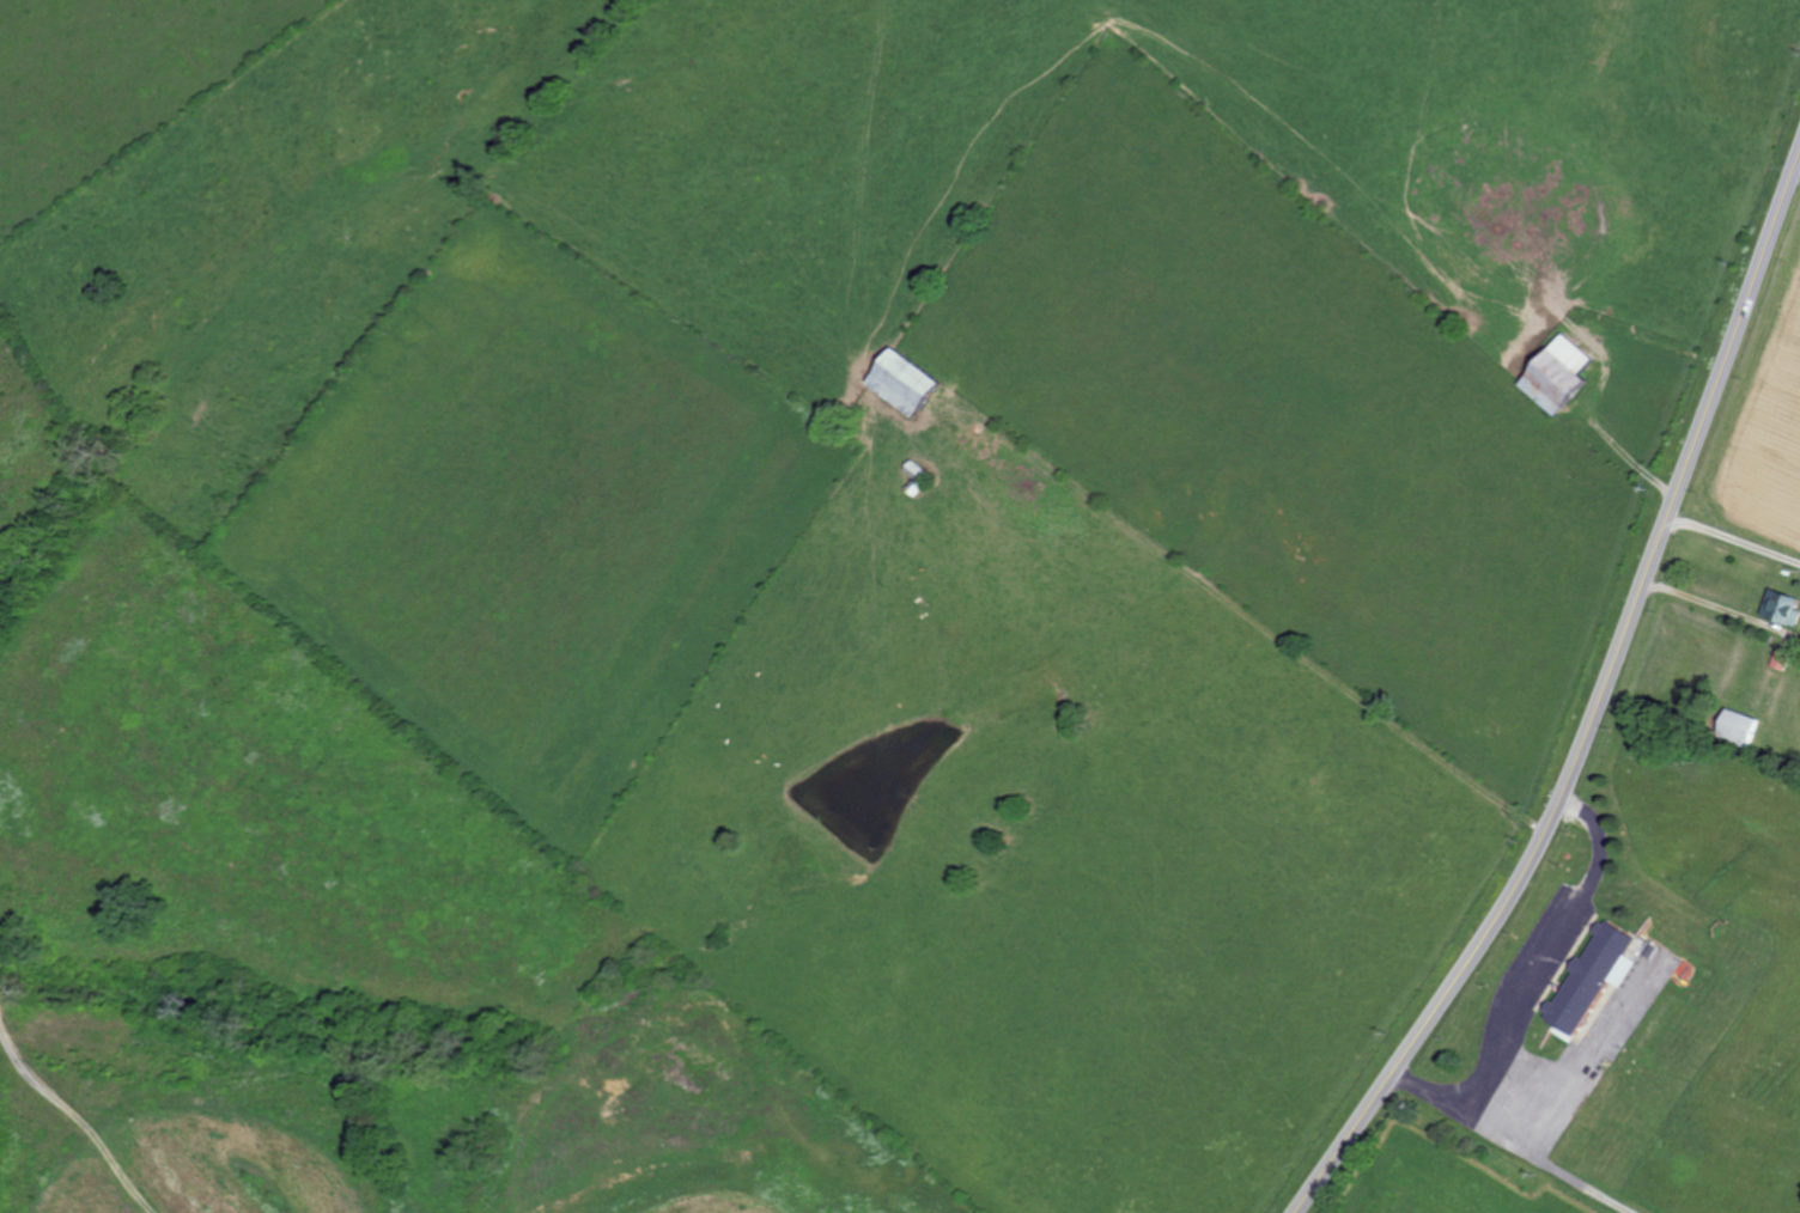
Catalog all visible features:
road: (1799, 158)
building: (1556, 374)
building: (899, 382)
road: (1733, 538)
building: (1781, 608)
road: (1598, 708)
building: (1738, 726)
building: (1636, 946)
road: (1546, 947)
building: (1592, 974)
road: (1589, 1046)
road: (1514, 1140)

